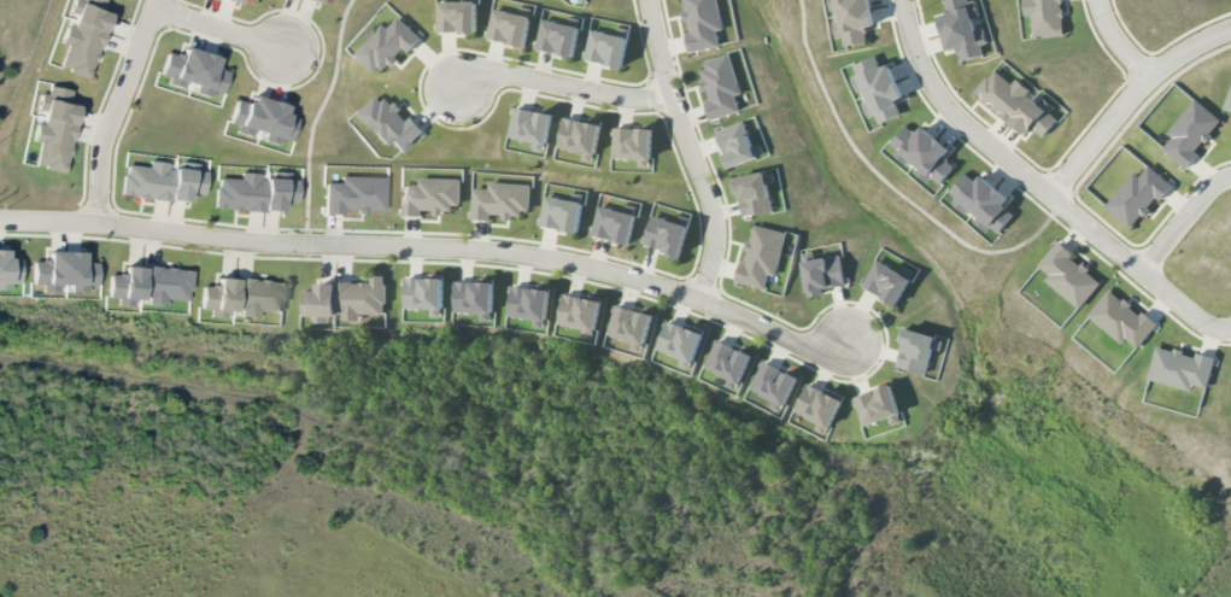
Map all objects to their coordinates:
building: (253, 0)
building: (333, 0)
building: (233, 1)
building: (313, 1)
building: (582, 1)
building: (457, 17)
building: (1044, 17)
building: (851, 21)
building: (702, 24)
building: (509, 28)
road: (218, 29)
building: (962, 29)
building: (83, 37)
building: (557, 39)
road: (1119, 43)
building: (386, 47)
building: (606, 48)
building: (866, 65)
building: (194, 72)
road: (562, 86)
building: (720, 88)
building: (879, 94)
road: (1130, 103)
building: (1227, 104)
building: (1015, 105)
road: (115, 110)
building: (263, 119)
building: (388, 123)
building: (529, 127)
building: (54, 129)
building: (1190, 133)
building: (579, 135)
building: (632, 145)
building: (738, 146)
road: (690, 150)
building: (922, 154)
road: (998, 154)
building: (163, 182)
road: (891, 185)
building: (256, 192)
building: (752, 194)
building: (354, 195)
building: (430, 197)
building: (1137, 197)
building: (500, 201)
building: (981, 203)
building: (562, 215)
road: (1183, 222)
building: (614, 226)
building: (667, 236)
road: (432, 250)
building: (761, 257)
building: (8, 271)
building: (64, 273)
building: (822, 275)
building: (1068, 276)
building: (886, 282)
building: (150, 286)
building: (424, 293)
building: (242, 297)
building: (474, 297)
building: (345, 300)
building: (529, 303)
road: (1184, 308)
building: (579, 312)
building: (1121, 321)
building: (629, 327)
building: (680, 343)
building: (916, 352)
building: (728, 364)
building: (1180, 369)
building: (774, 386)
building: (819, 405)
building: (877, 406)

